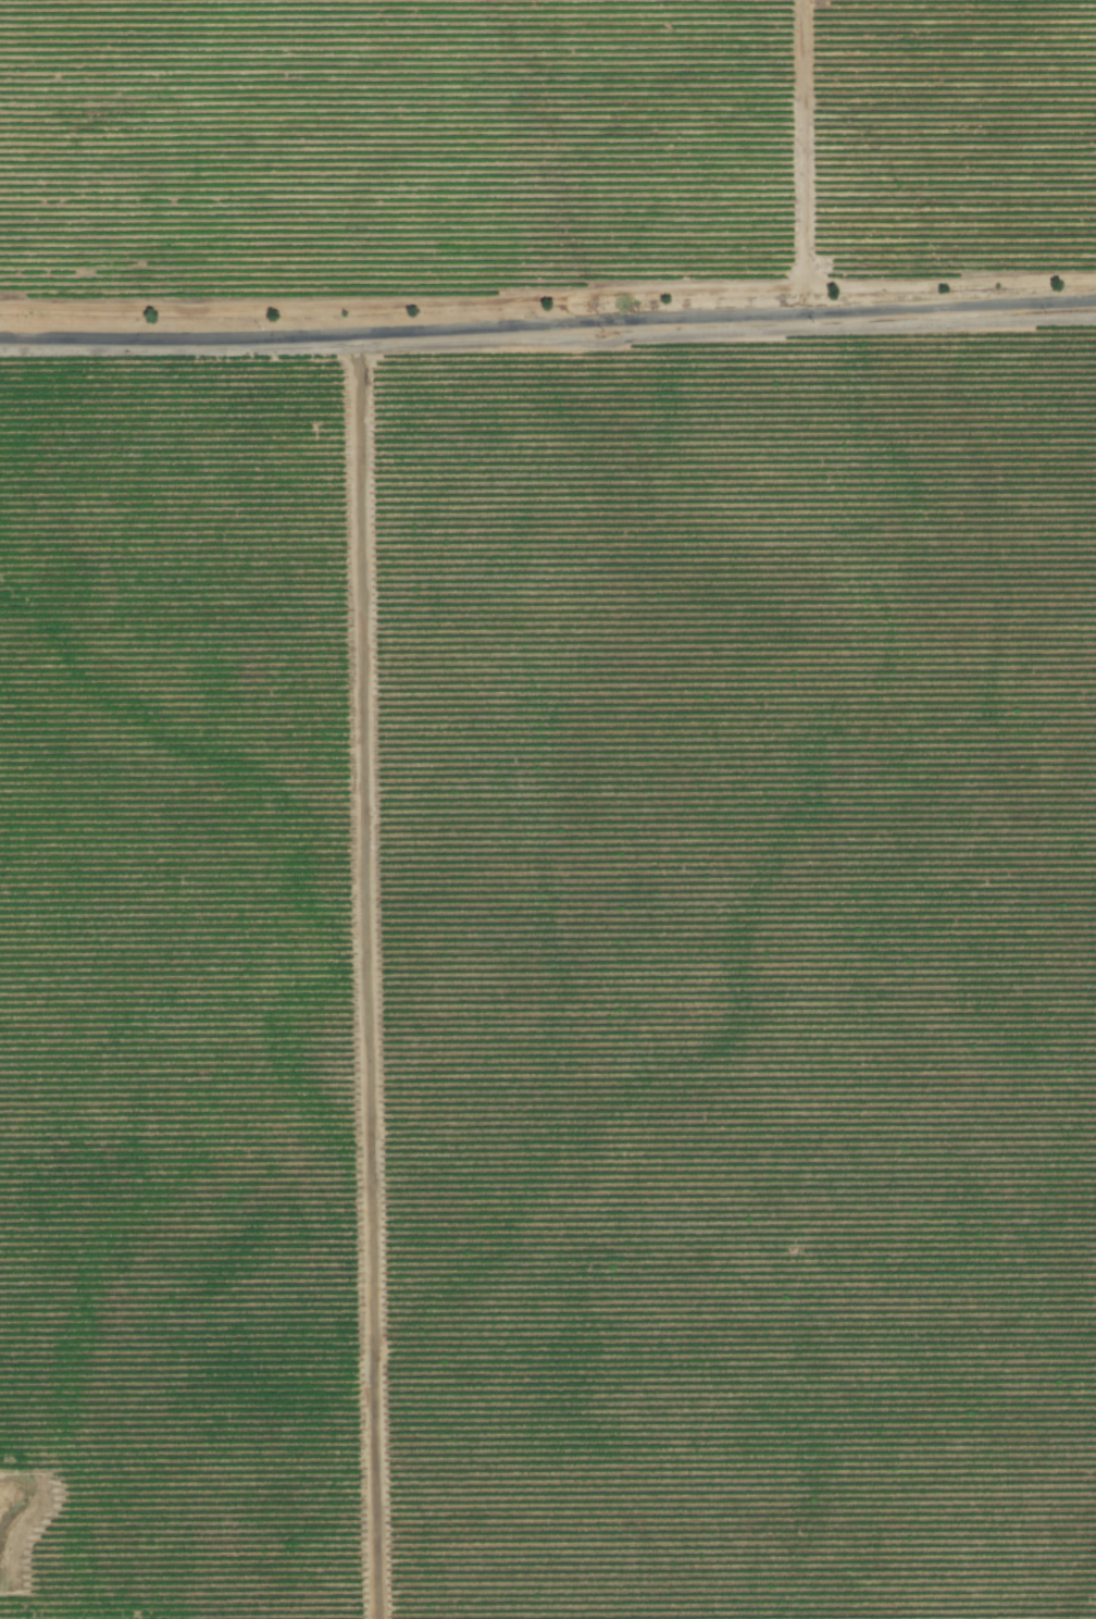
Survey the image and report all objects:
road: (548, 323)
crop: (548, 810)

